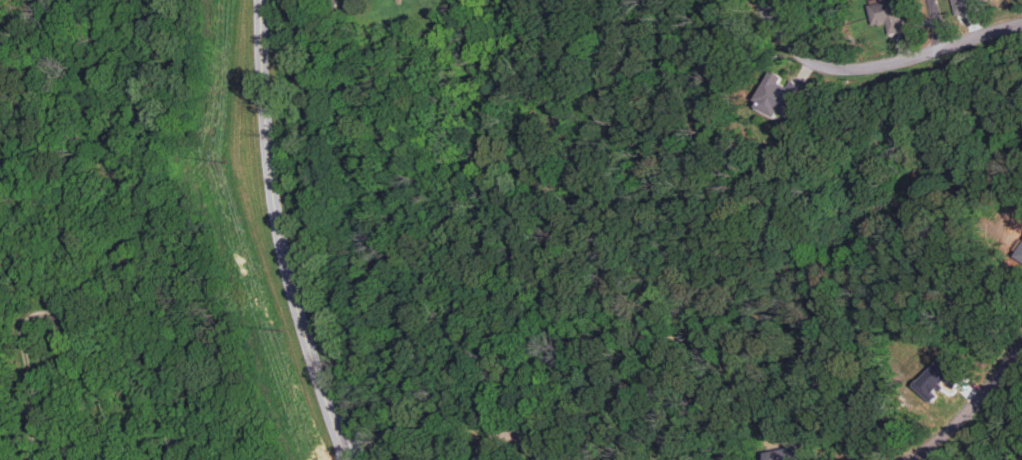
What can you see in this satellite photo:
building: (964, 6)
building: (888, 15)
road: (940, 22)
road: (878, 68)
road: (604, 82)
building: (778, 95)
road: (281, 234)
building: (937, 379)
road: (32, 398)
road: (974, 410)
building: (786, 453)

